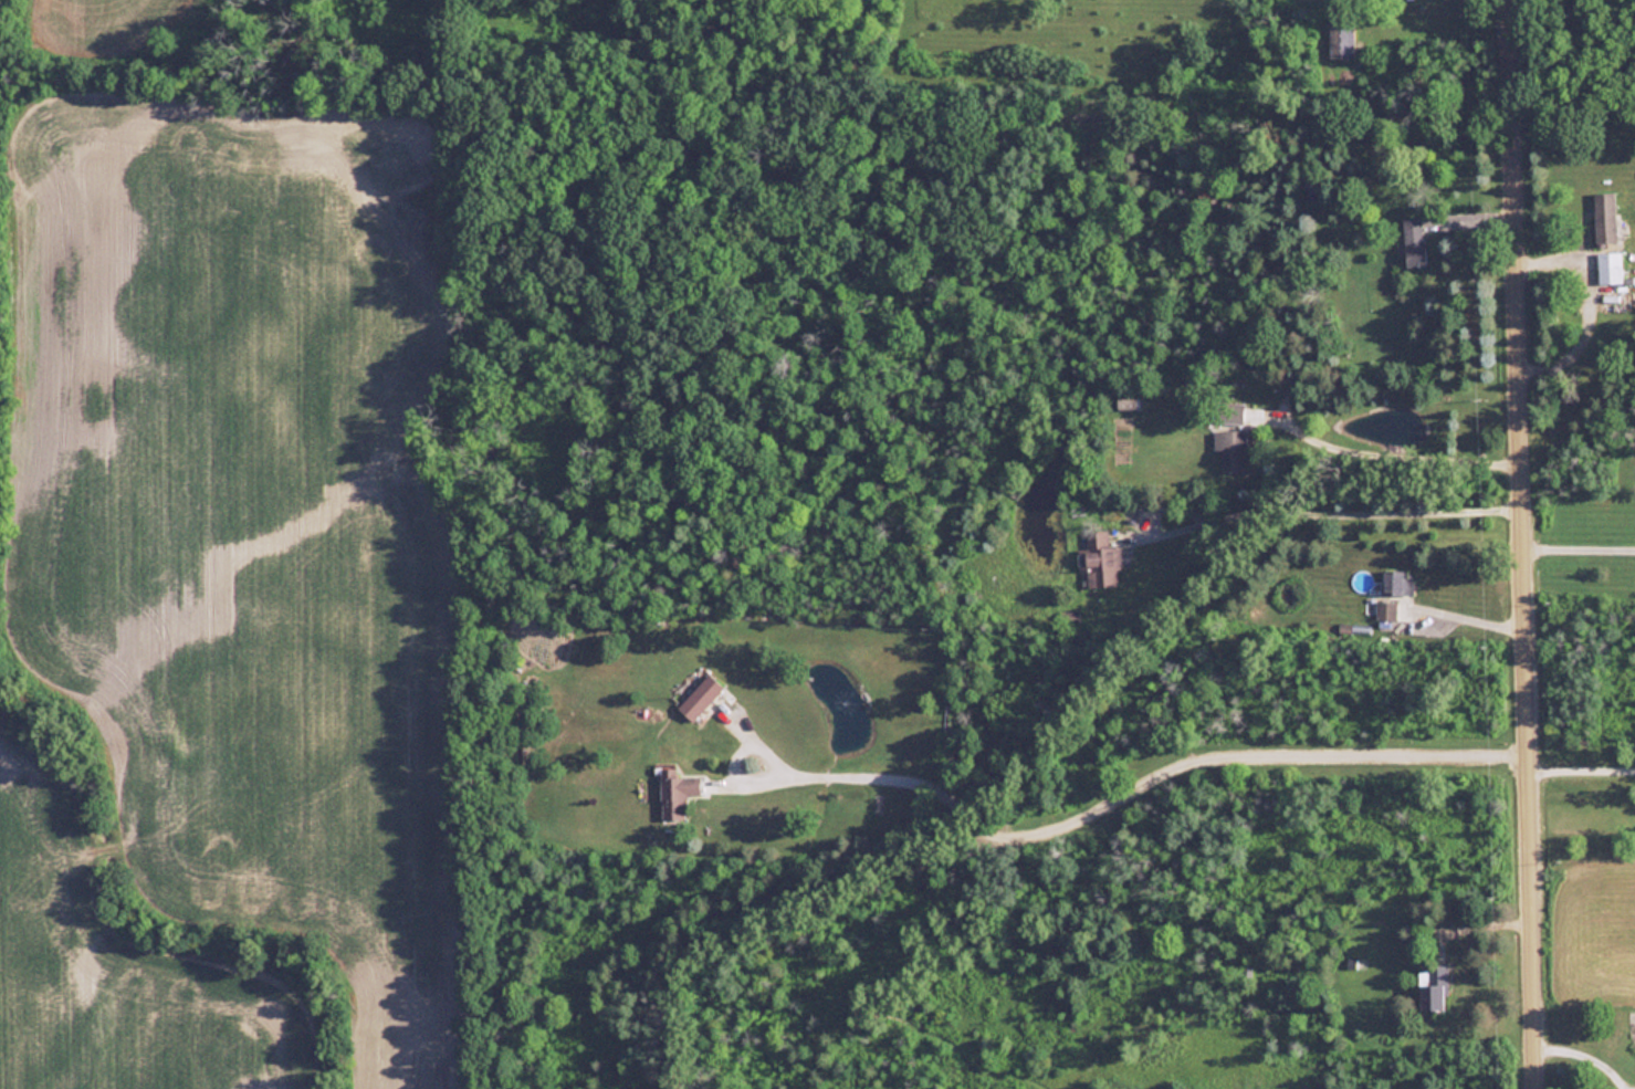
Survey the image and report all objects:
building: (1341, 36)
building: (1311, 190)
building: (1604, 219)
building: (1414, 240)
building: (1608, 266)
road: (1589, 301)
building: (1230, 411)
building: (1230, 448)
road: (1400, 454)
road: (1338, 511)
road: (1581, 534)
road: (1529, 544)
building: (1100, 558)
building: (1396, 582)
building: (1385, 610)
road: (1466, 610)
building: (703, 695)
road: (1584, 768)
road: (1134, 786)
building: (677, 792)
road: (1479, 924)
building: (1434, 986)
road: (1587, 1056)

